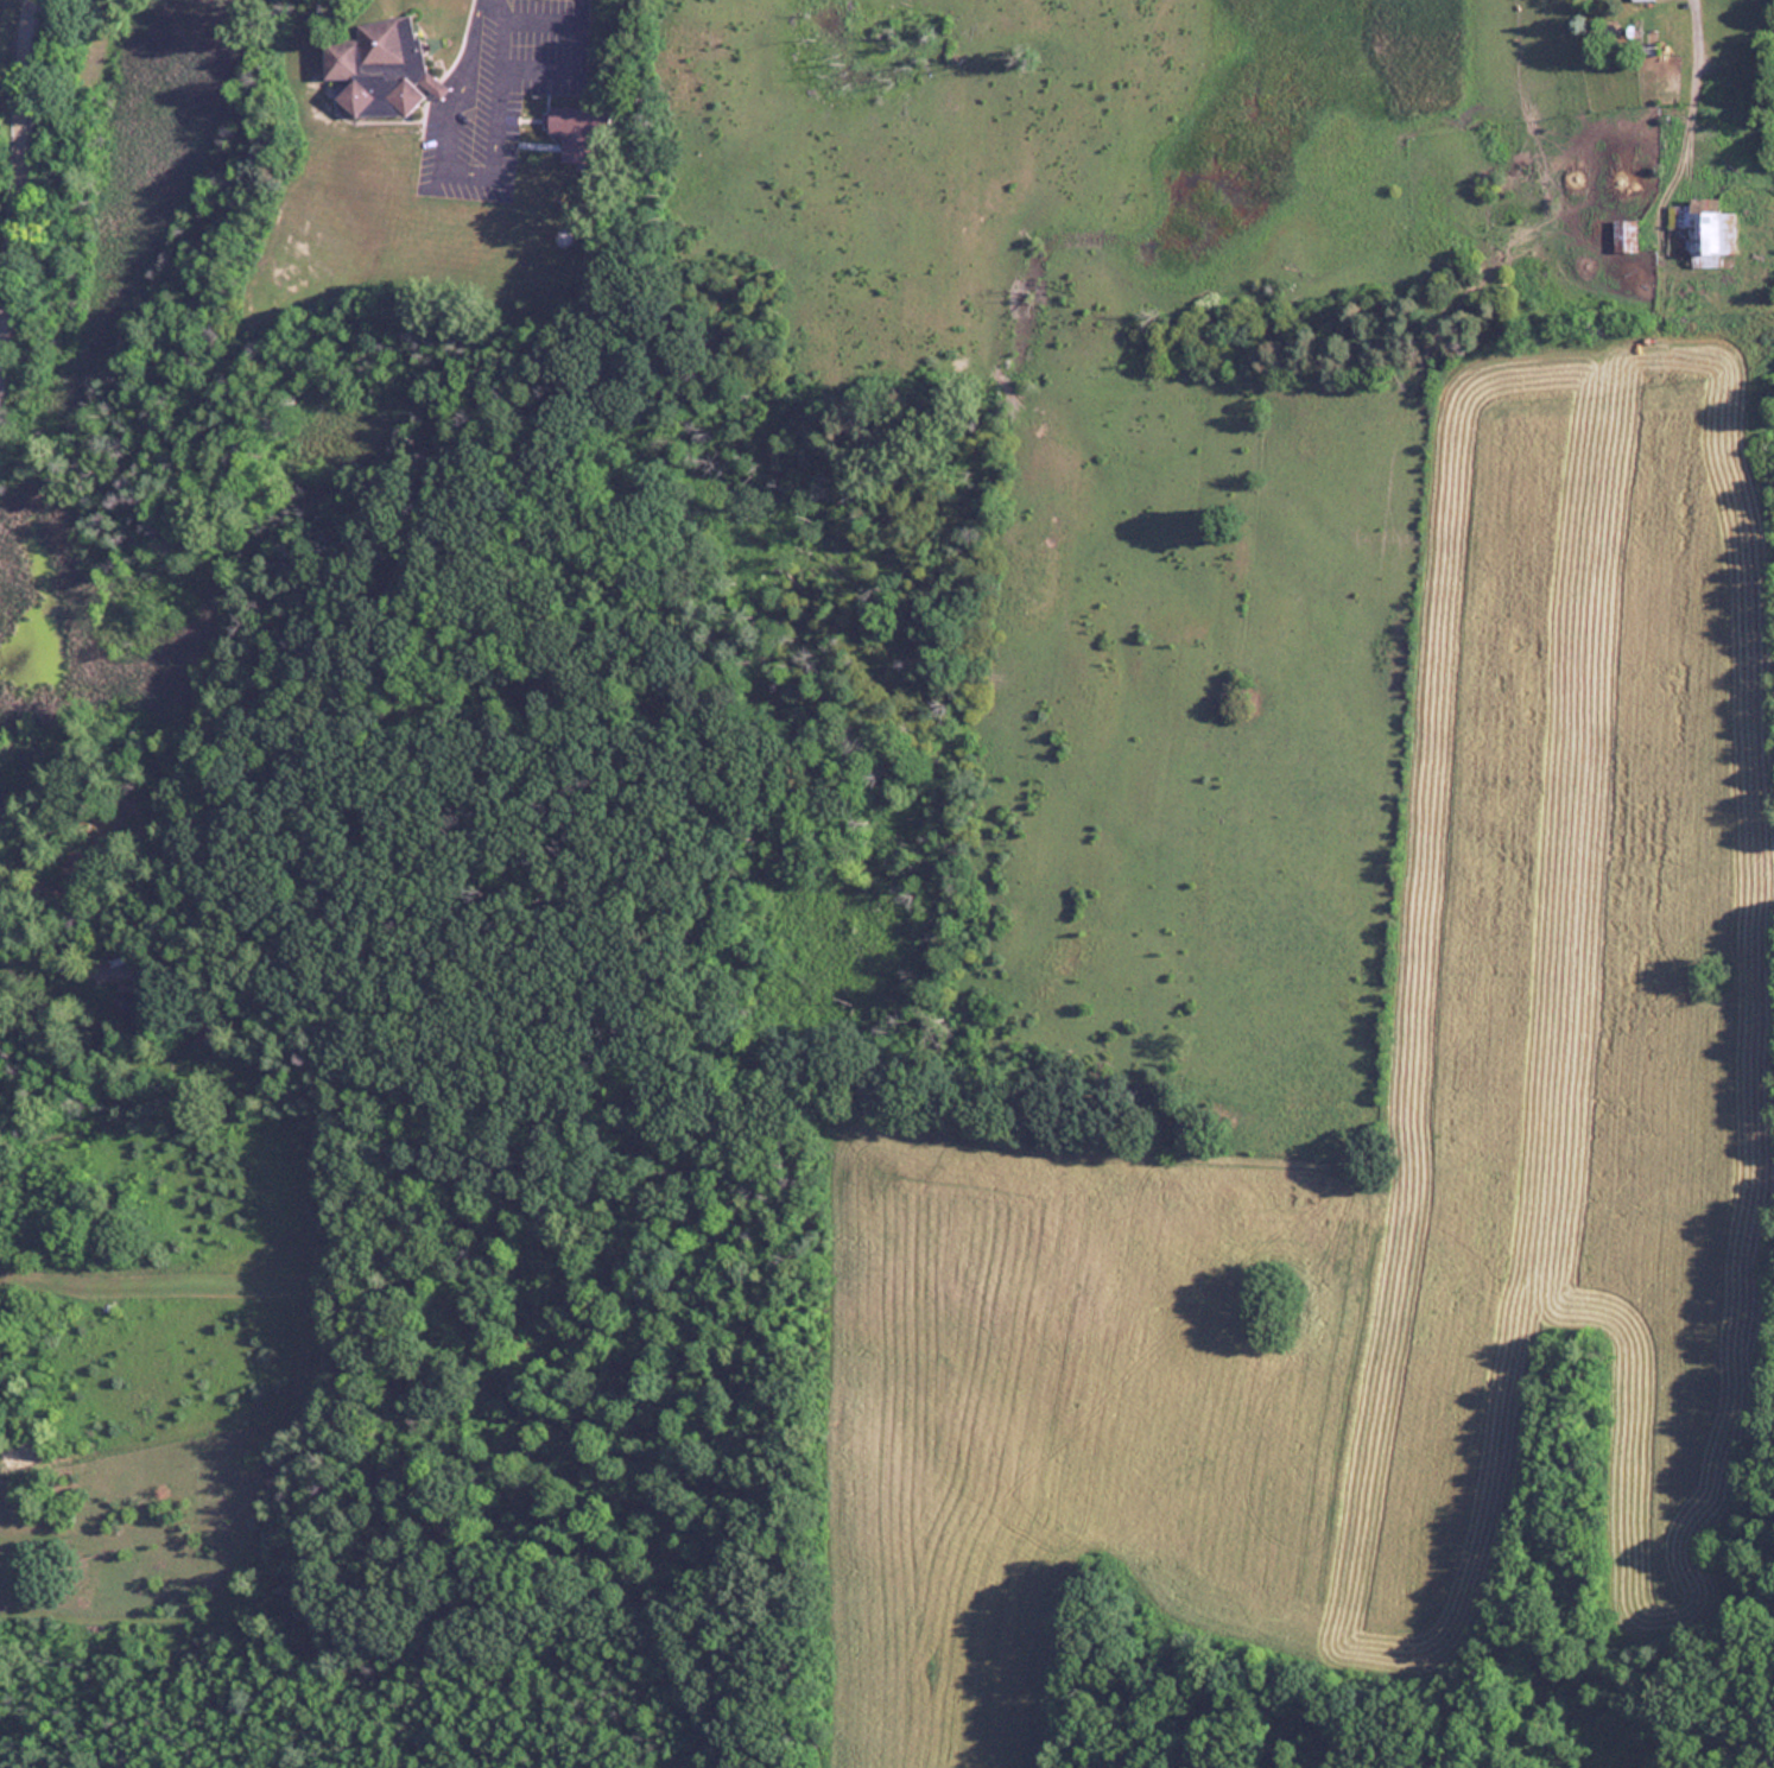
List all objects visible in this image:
road: (537, 18)
road: (499, 31)
building: (379, 68)
road: (569, 68)
road: (1687, 90)
building: (571, 132)
road: (437, 157)
road: (12, 166)
building: (1704, 229)
road: (59, 963)
building: (133, 1001)
building: (208, 1025)

